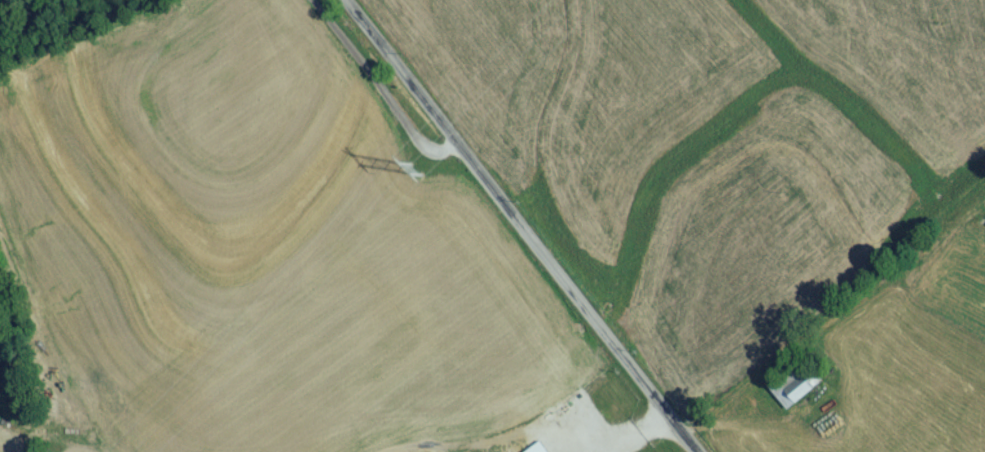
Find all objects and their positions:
road: (379, 91)
power tower: (416, 175)
road: (524, 224)
building: (795, 391)
road: (641, 441)
building: (540, 450)

